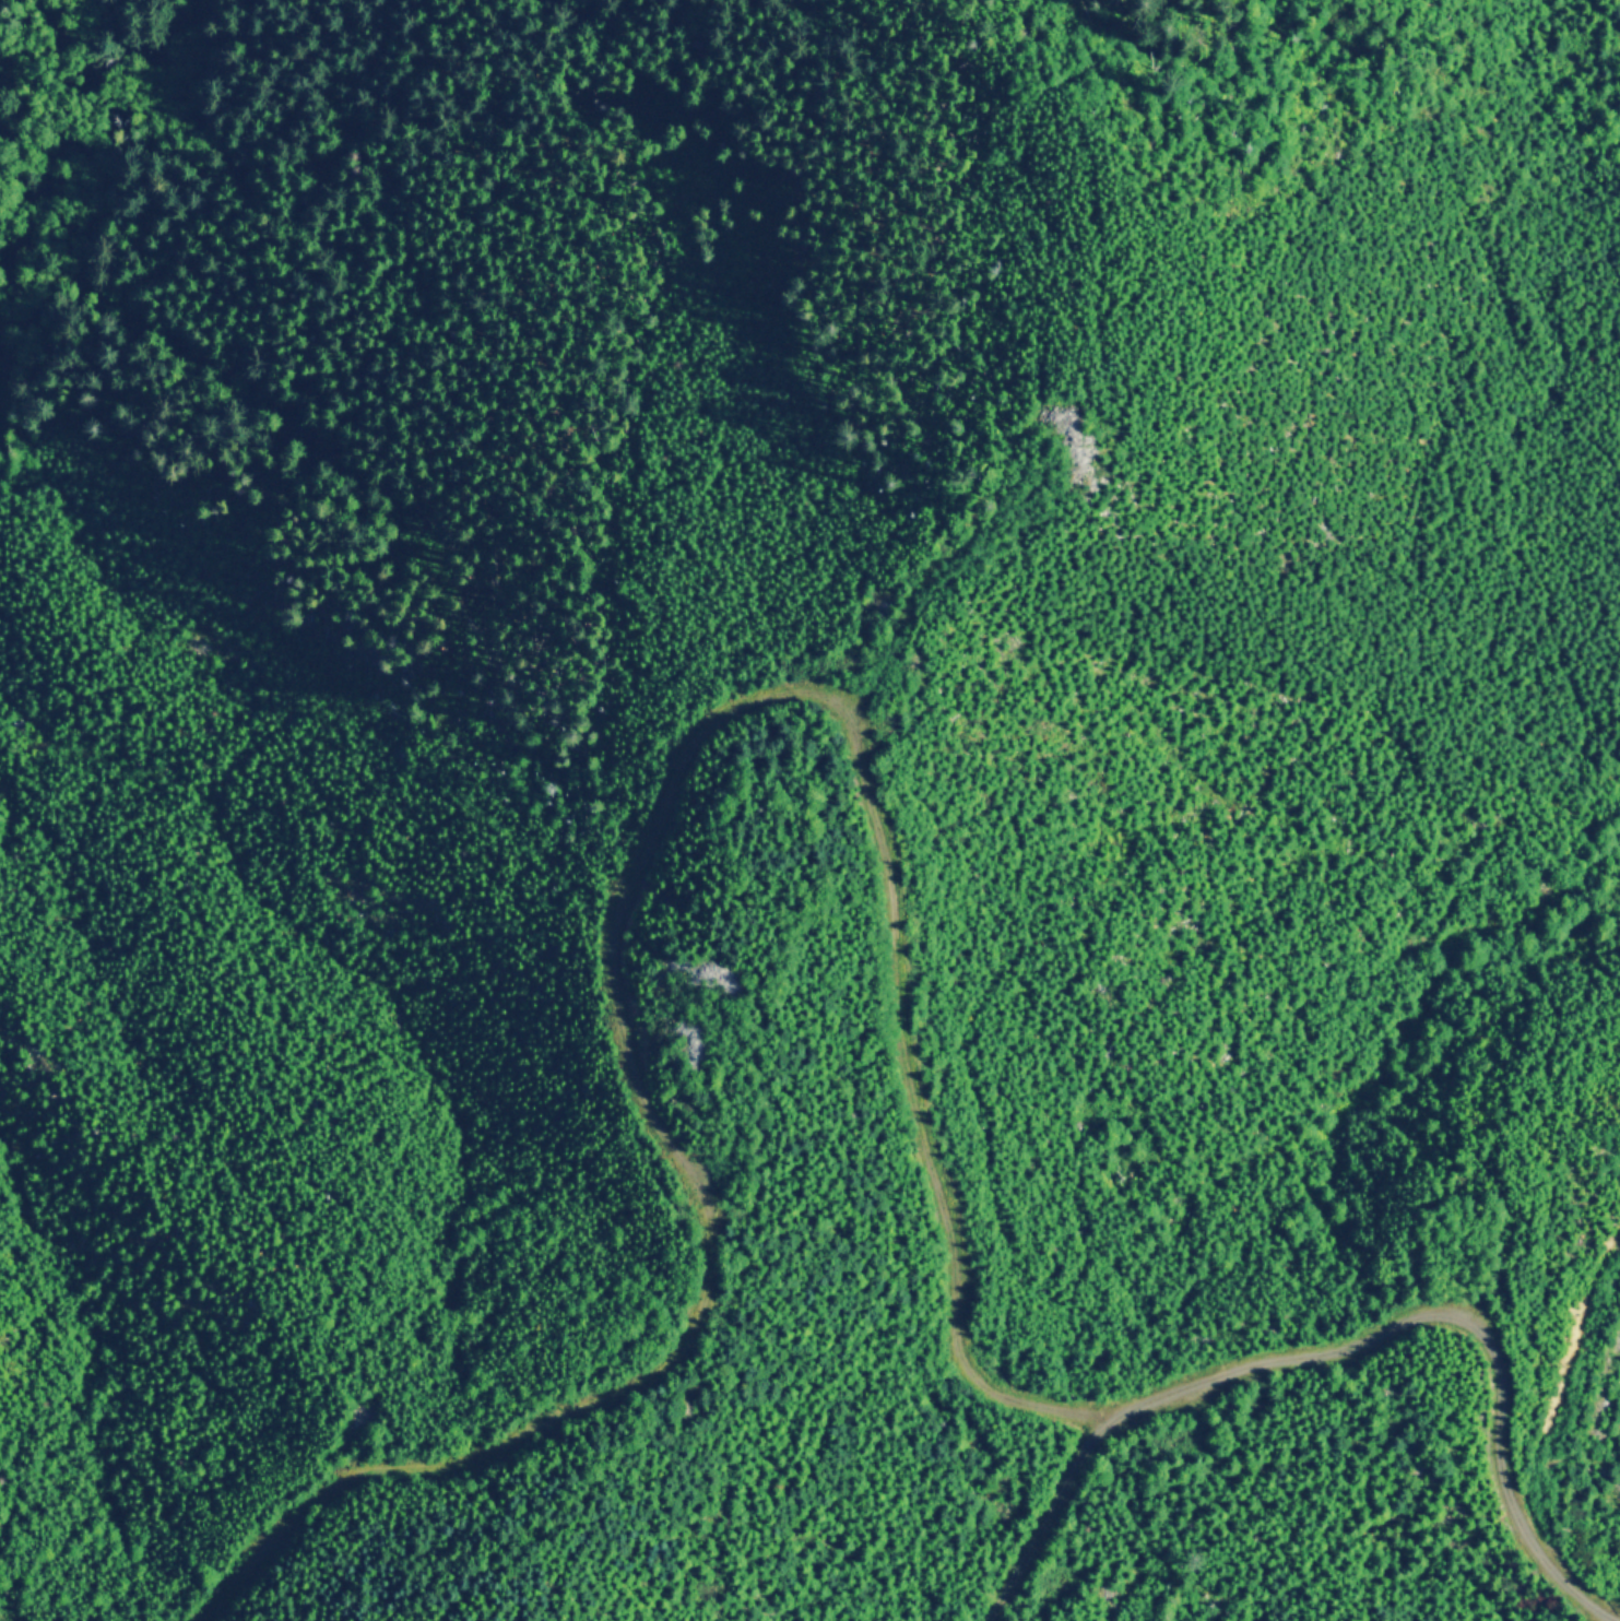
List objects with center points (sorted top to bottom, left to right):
road: (925, 596)
road: (641, 848)
road: (753, 1114)
road: (1346, 1349)
road: (1564, 1420)

